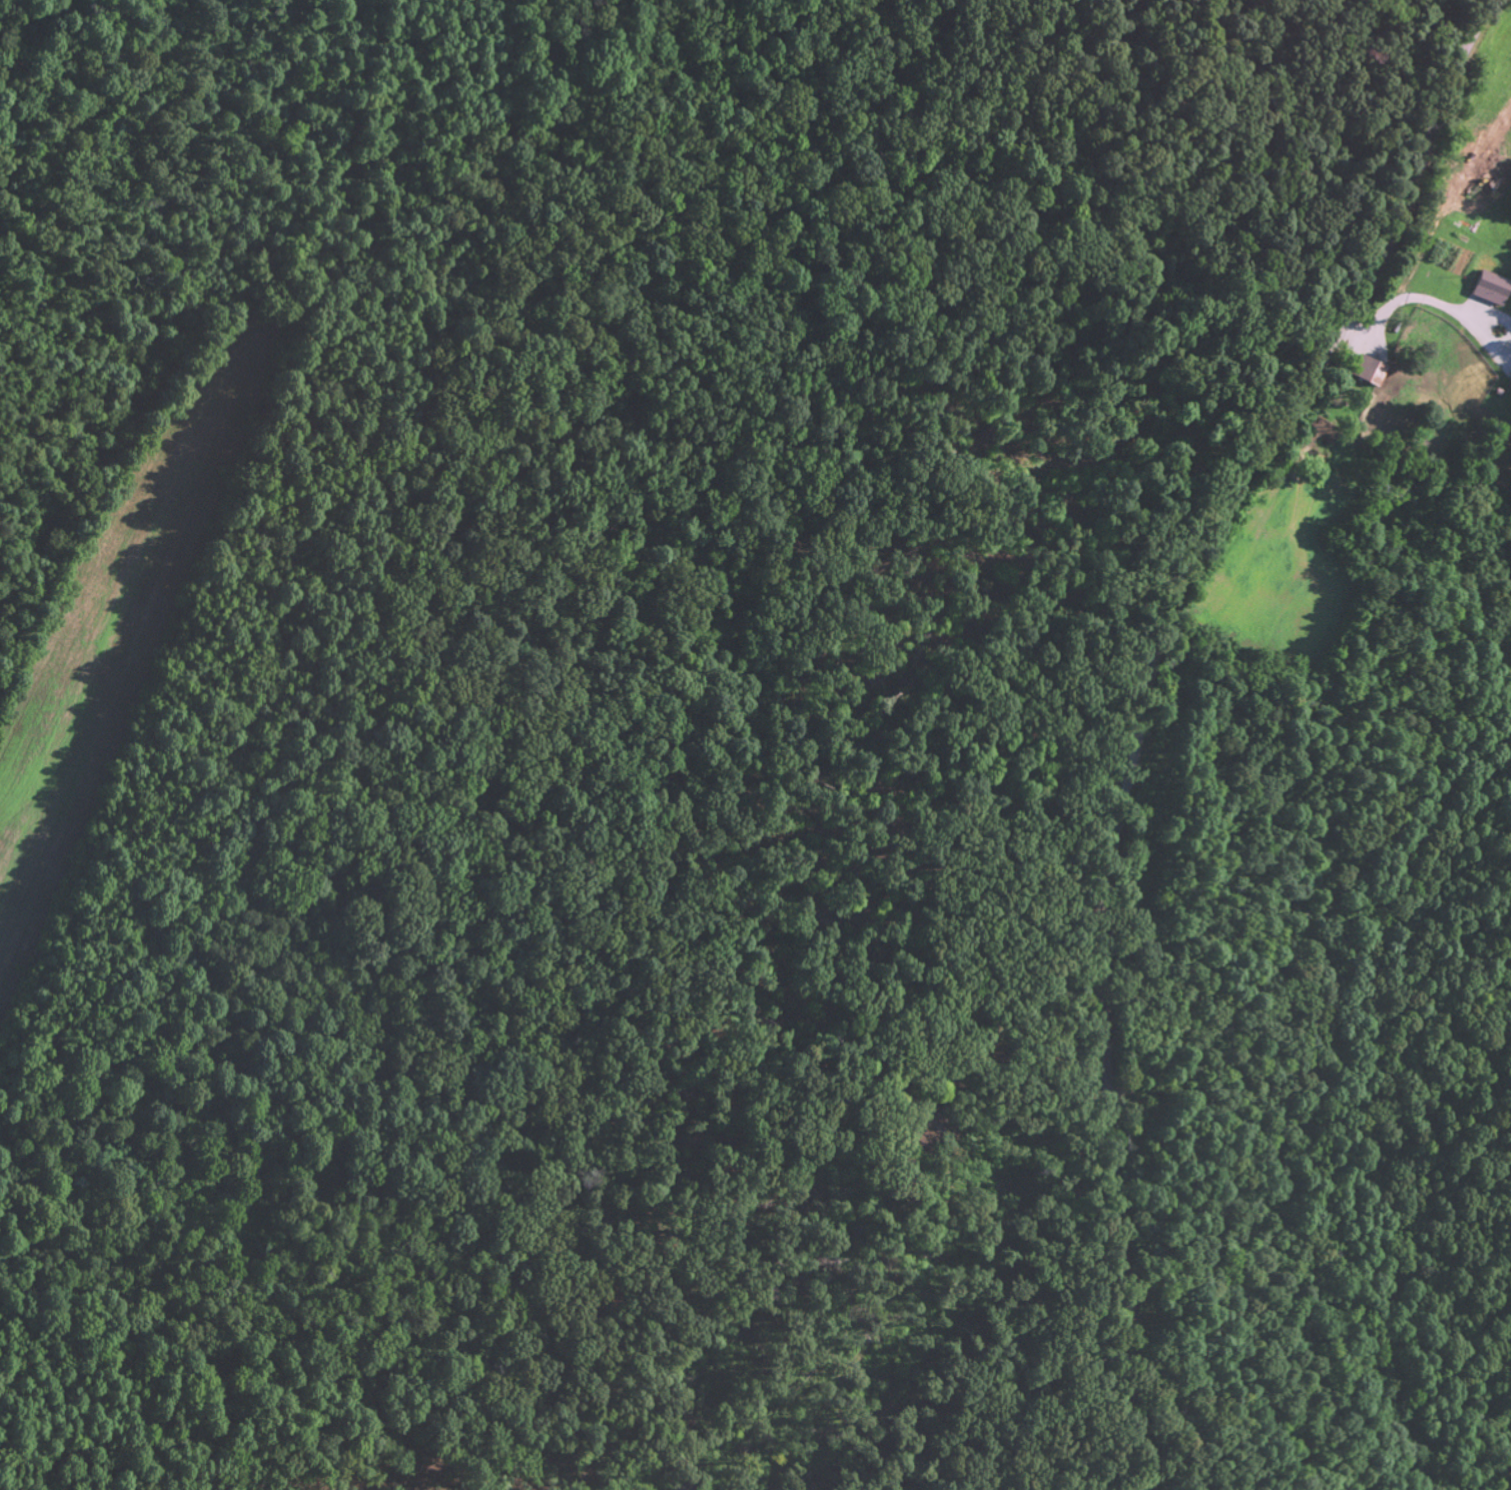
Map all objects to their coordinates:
building: (1491, 286)
building: (1368, 368)
building: (1510, 388)
road: (1150, 706)

